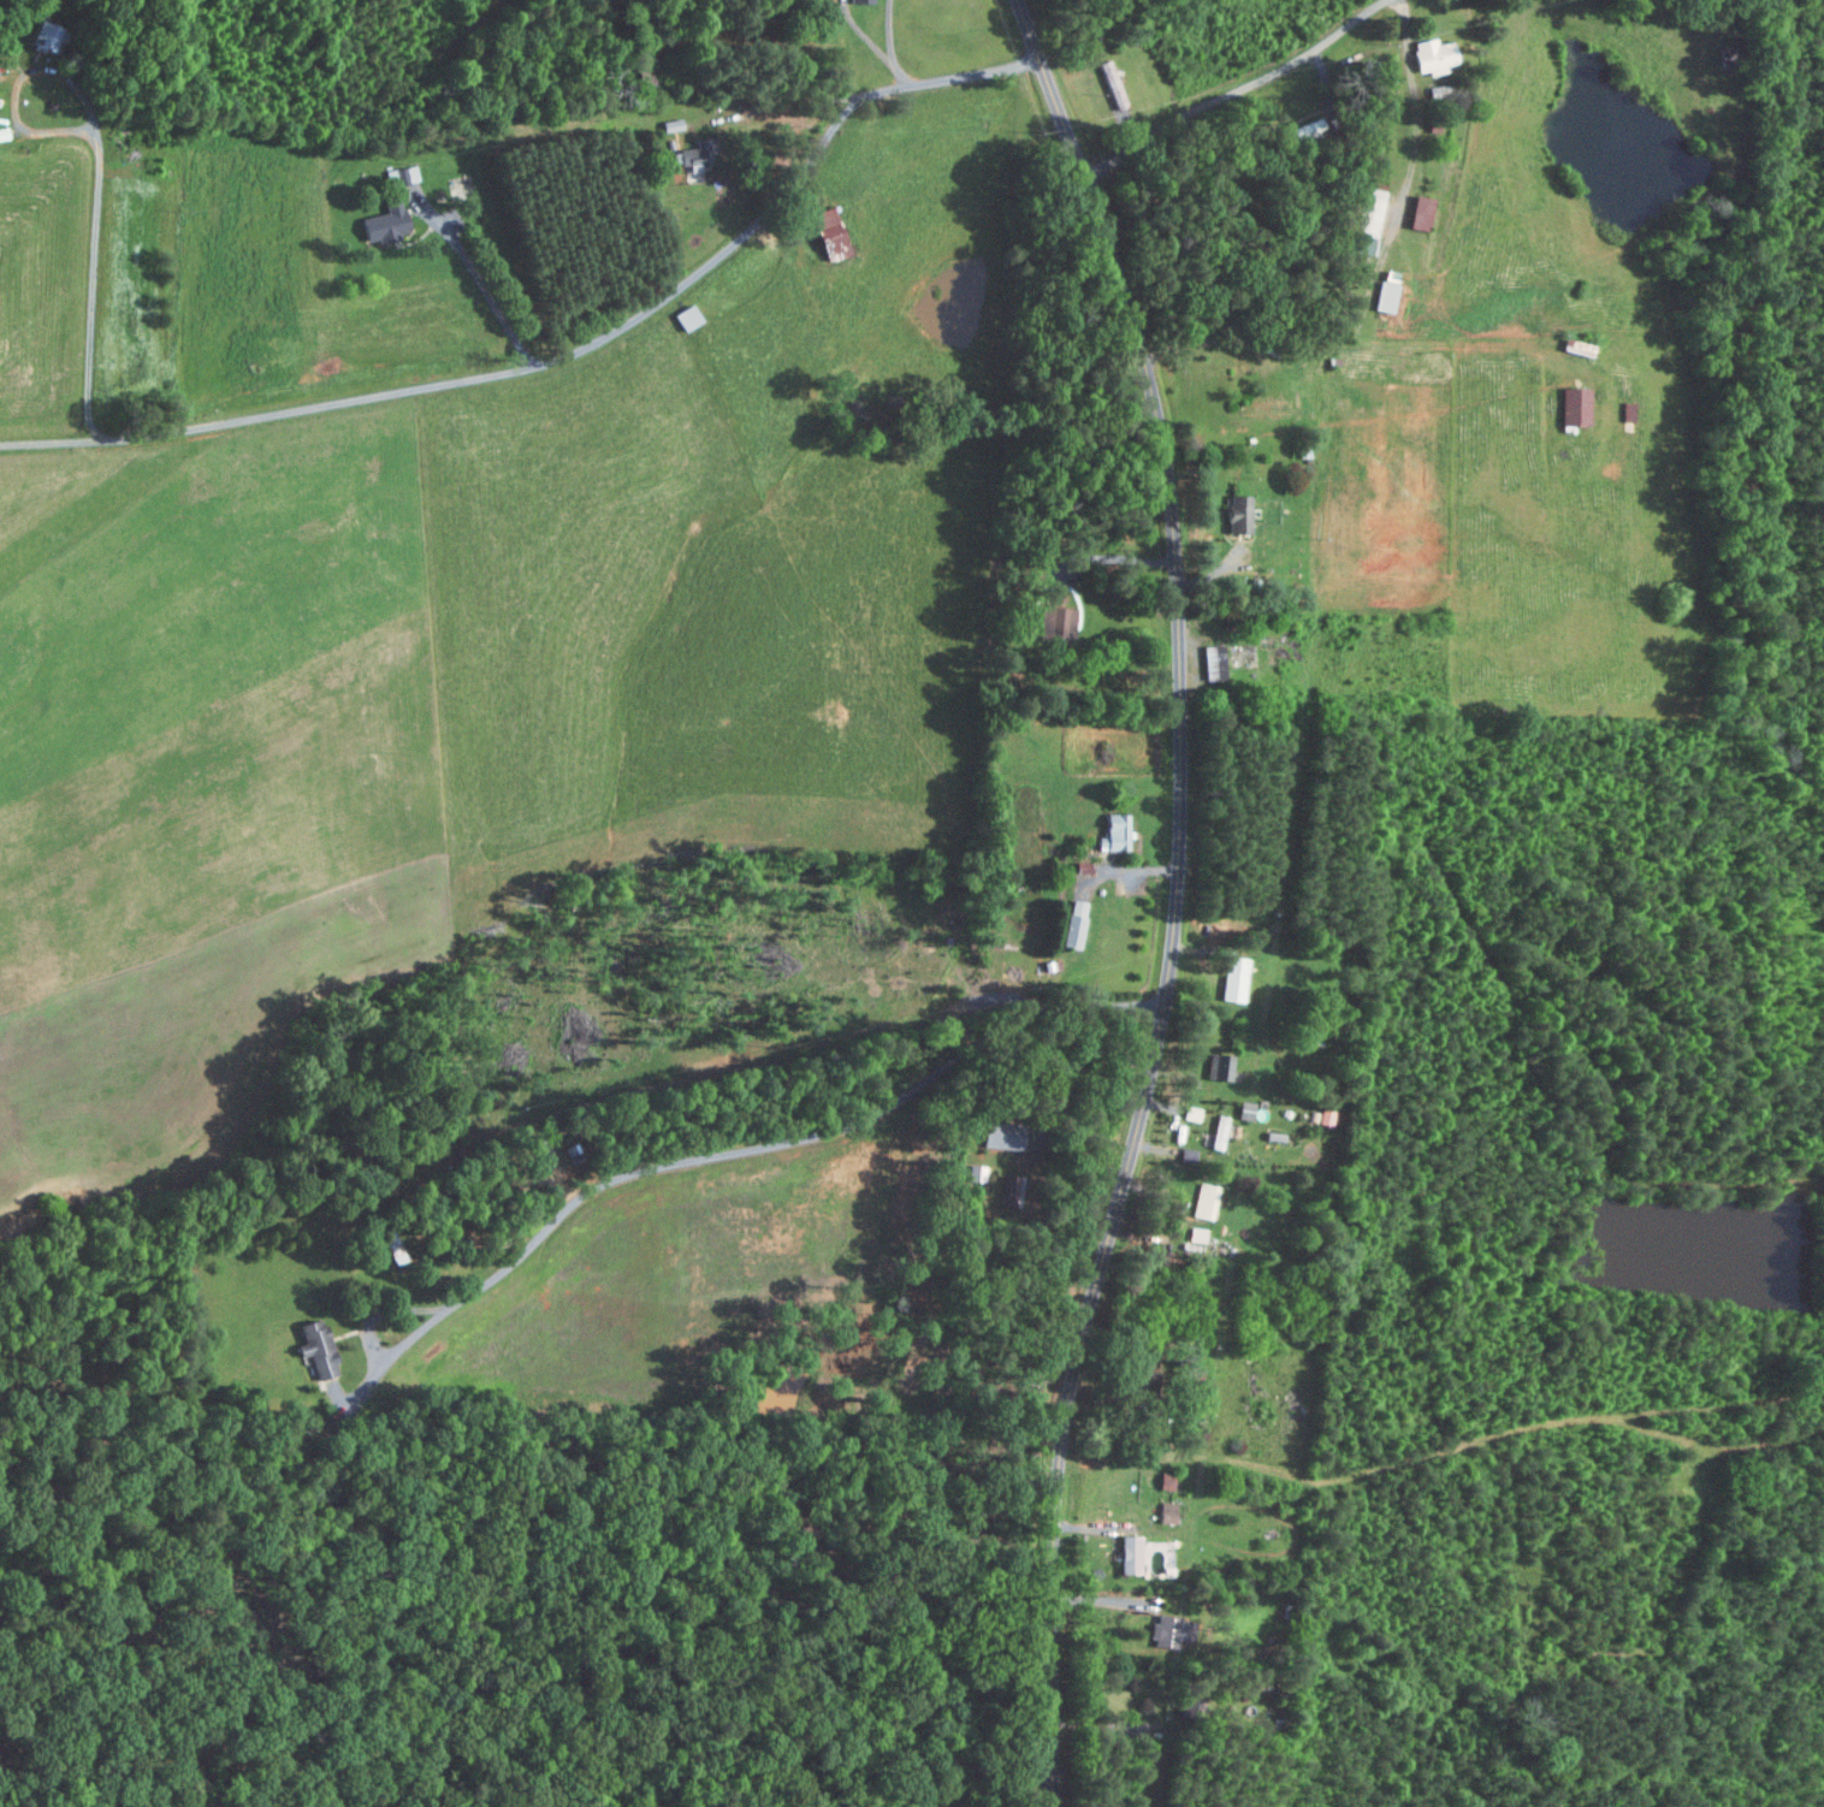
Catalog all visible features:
building: (857, 0)
road: (893, 46)
building: (1429, 54)
road: (1234, 88)
building: (670, 124)
building: (688, 158)
road: (99, 161)
building: (399, 174)
building: (1417, 211)
building: (380, 223)
building: (1364, 223)
building: (825, 231)
road: (1375, 272)
building: (1384, 296)
road: (495, 302)
building: (683, 316)
road: (570, 356)
building: (1573, 405)
building: (1624, 410)
building: (1236, 513)
road: (1103, 561)
building: (1054, 621)
building: (1210, 660)
building: (1114, 830)
road: (1127, 870)
road: (1175, 896)
building: (1074, 923)
building: (1232, 978)
building: (1221, 1067)
building: (1243, 1109)
building: (1189, 1113)
building: (1218, 1132)
building: (999, 1134)
building: (543, 1150)
road: (704, 1157)
building: (975, 1173)
building: (1204, 1201)
building: (313, 1349)
building: (1163, 1511)
building: (1126, 1552)
building: (1161, 1631)
road: (1019, 1781)

